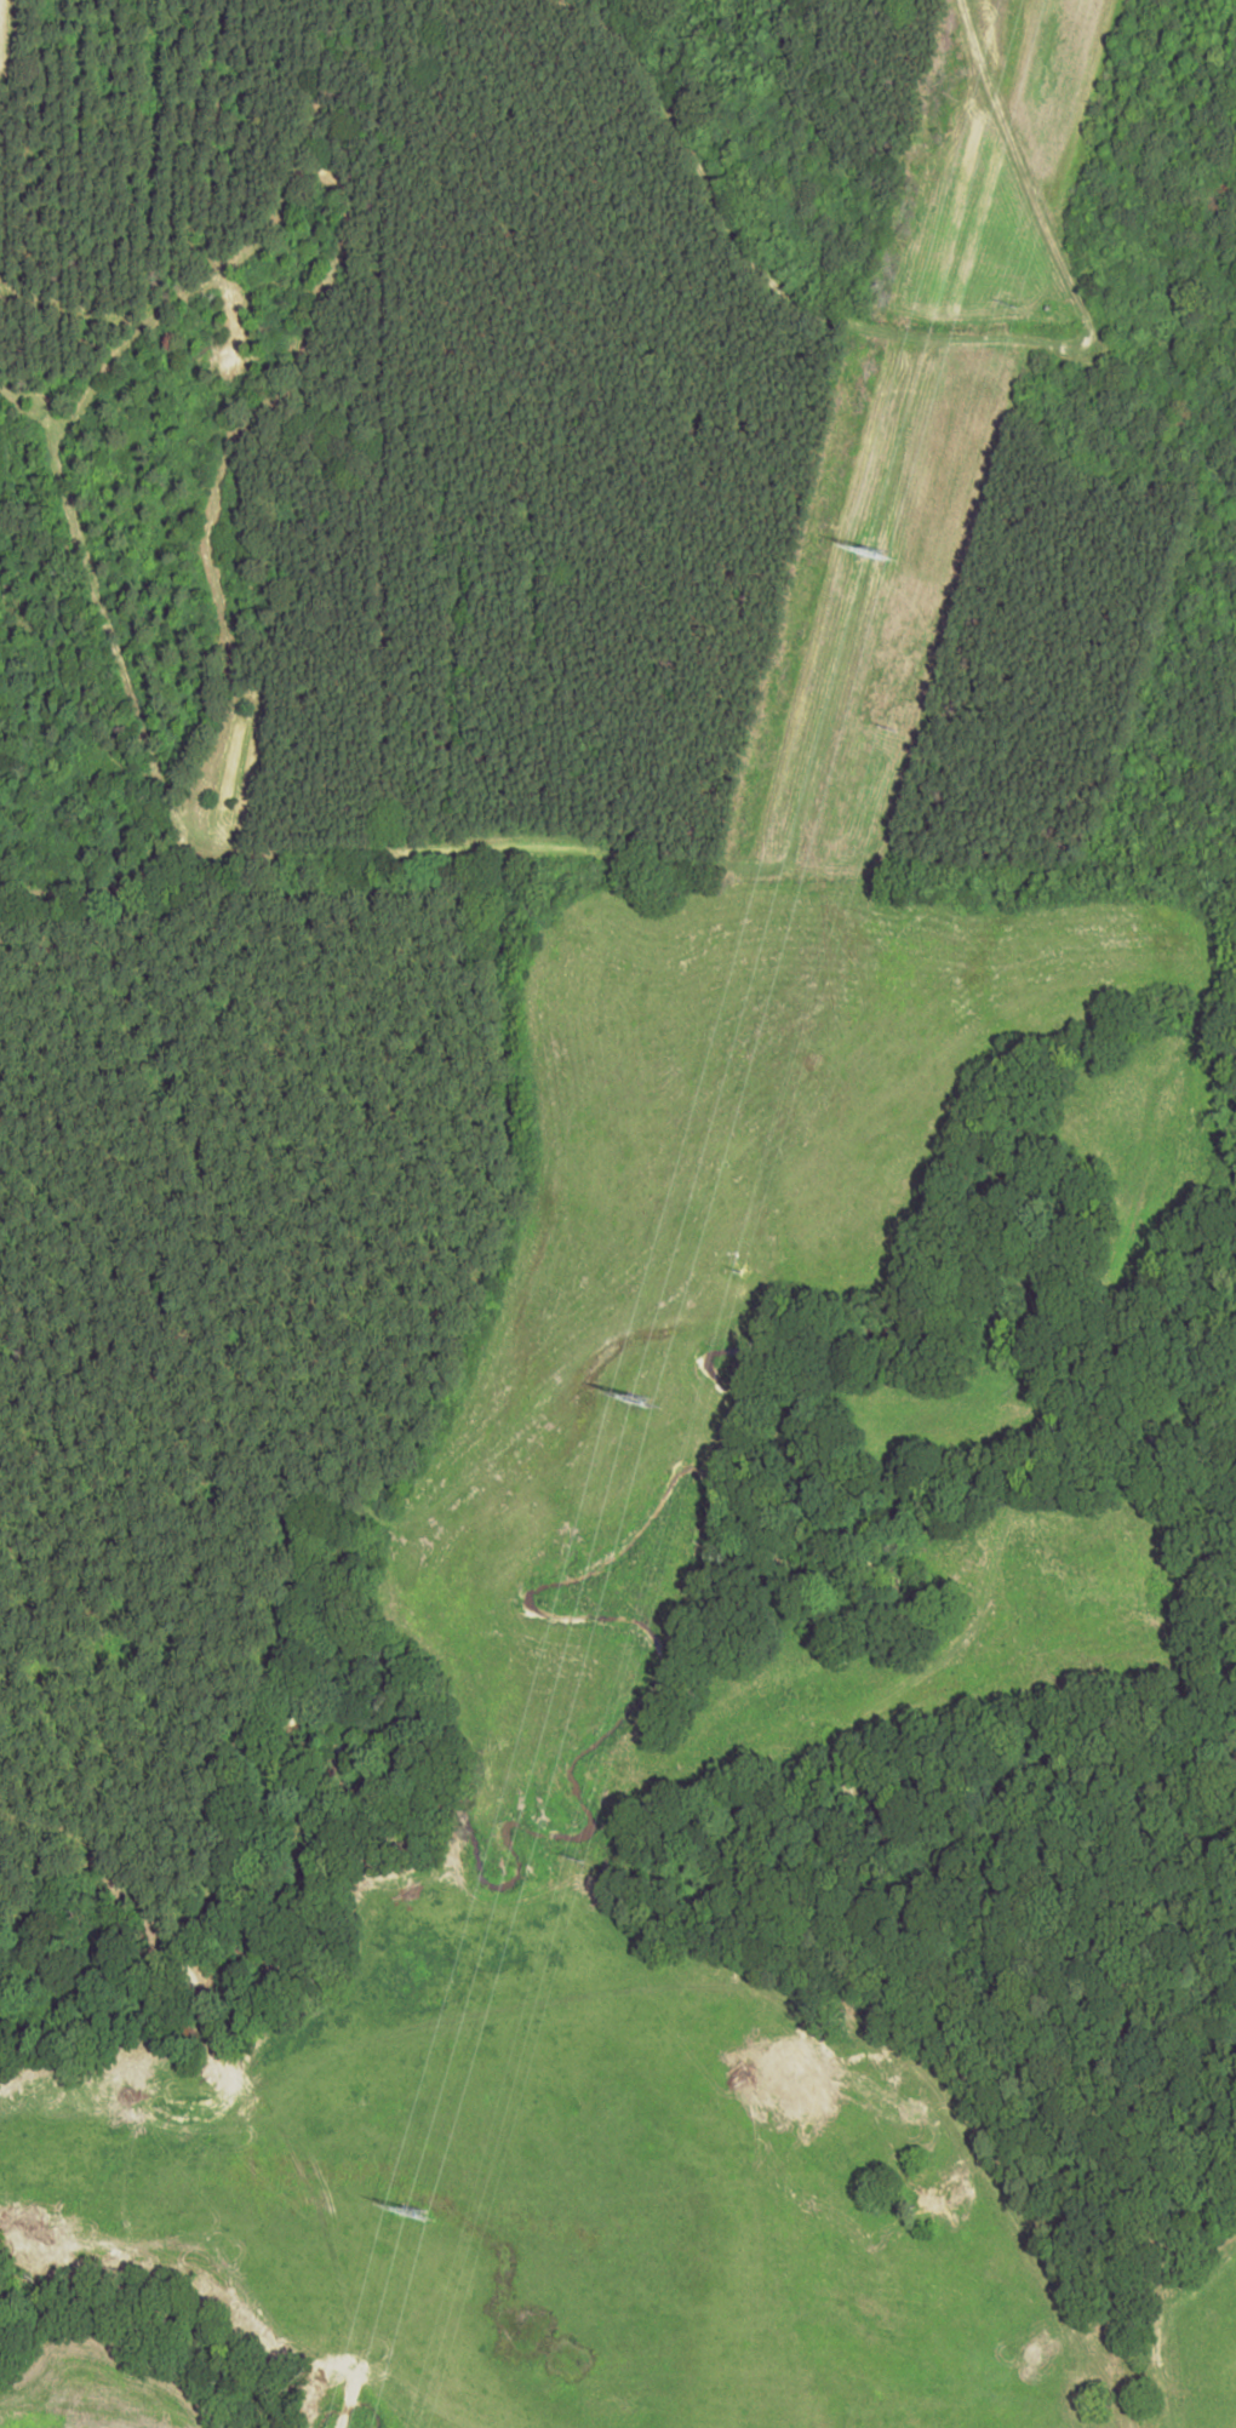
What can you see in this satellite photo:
power tower: (854, 551)
power tower: (623, 1401)
power tower: (404, 2201)

